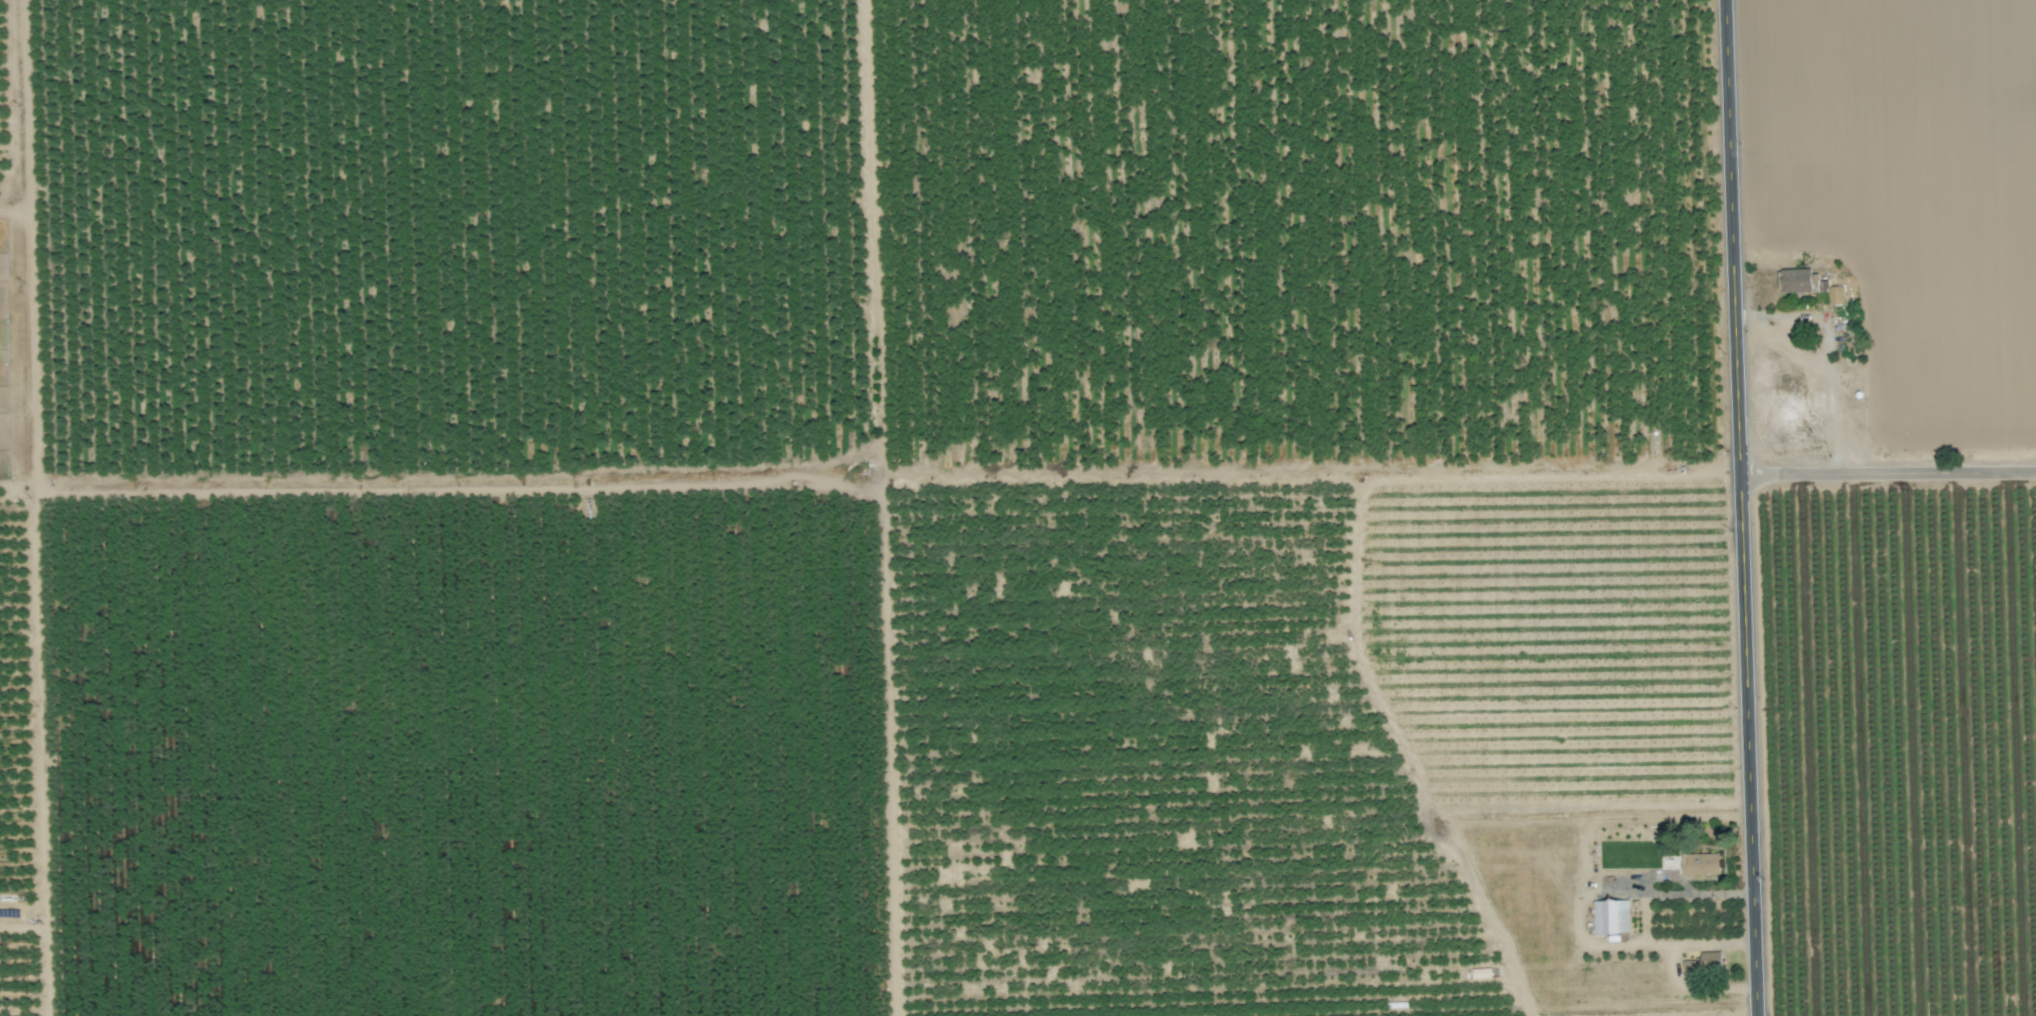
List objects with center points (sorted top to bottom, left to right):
building: (1808, 287)
road: (1887, 475)
road: (1739, 508)
road: (1404, 776)
building: (1698, 866)
building: (1610, 919)
road: (1581, 921)
building: (1689, 972)
road: (1696, 991)

